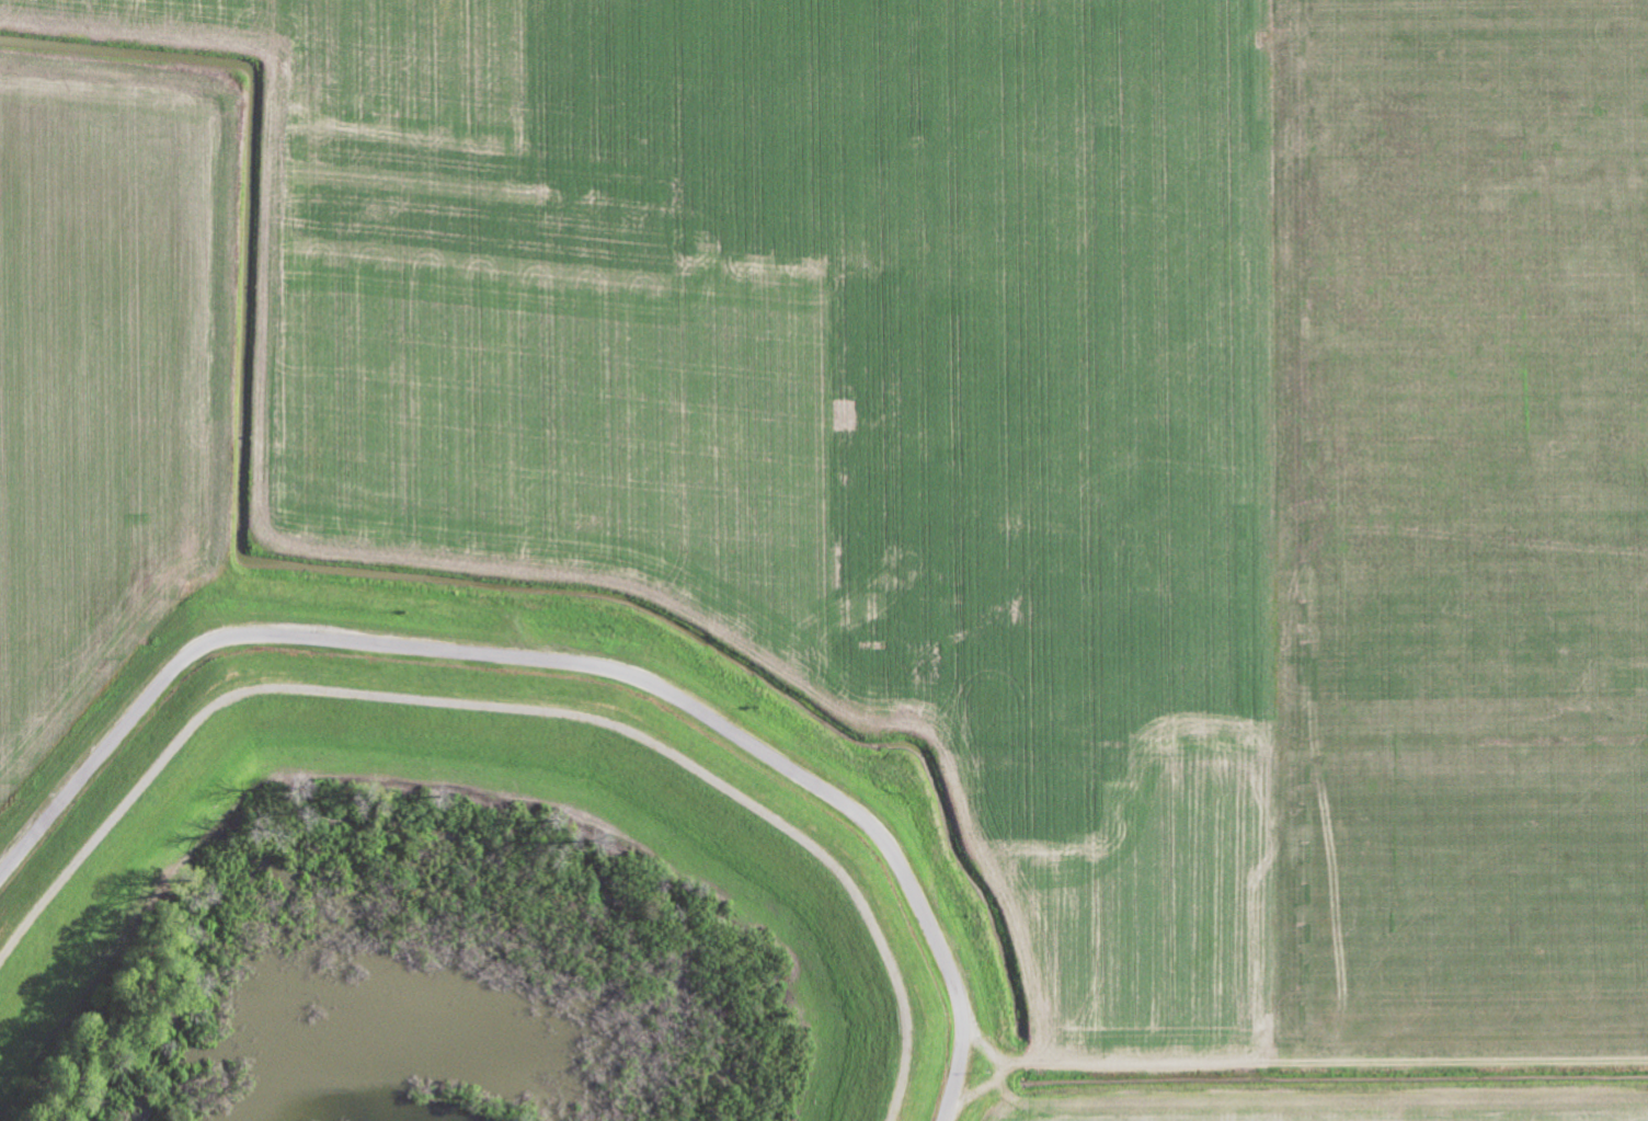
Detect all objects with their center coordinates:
road: (564, 661)
road: (516, 708)

